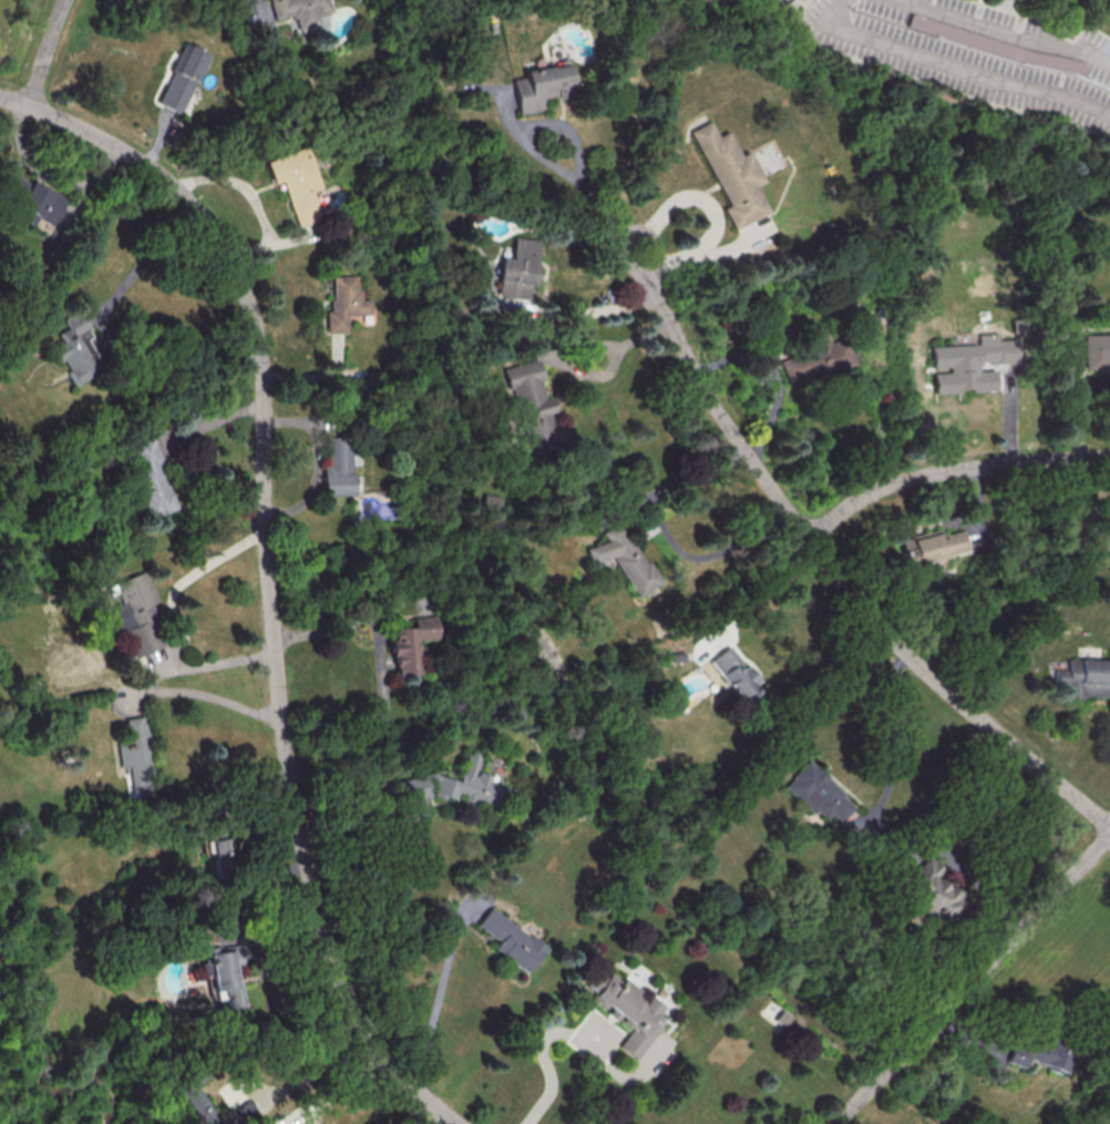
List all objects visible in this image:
parking lot: (801, 0)
road: (259, 1)
road: (933, 6)
building: (299, 11)
road: (977, 12)
road: (1061, 22)
road: (1001, 33)
building: (995, 45)
road: (45, 51)
parking lot: (974, 52)
road: (950, 63)
building: (181, 76)
building: (541, 86)
road: (507, 113)
road: (569, 133)
building: (730, 174)
building: (295, 183)
building: (32, 200)
road: (258, 206)
road: (712, 211)
building: (516, 269)
building: (342, 303)
road: (599, 310)
road: (104, 330)
building: (75, 348)
building: (1096, 350)
building: (815, 360)
road: (617, 361)
building: (969, 362)
road: (775, 375)
building: (533, 407)
building: (337, 466)
road: (949, 468)
building: (150, 477)
building: (491, 502)
road: (669, 535)
building: (933, 545)
building: (624, 559)
road: (831, 570)
road: (265, 571)
building: (136, 613)
building: (410, 644)
building: (736, 674)
building: (1085, 677)
road: (381, 678)
road: (147, 691)
road: (892, 733)
building: (135, 757)
building: (452, 786)
building: (819, 793)
road: (983, 810)
road: (362, 821)
building: (219, 852)
building: (931, 889)
building: (512, 940)
building: (223, 973)
road: (973, 980)
road: (439, 1003)
building: (628, 1009)
building: (1039, 1054)
road: (547, 1067)
river: (40, 1069)
road: (340, 1091)
building: (193, 1097)
building: (243, 1112)

